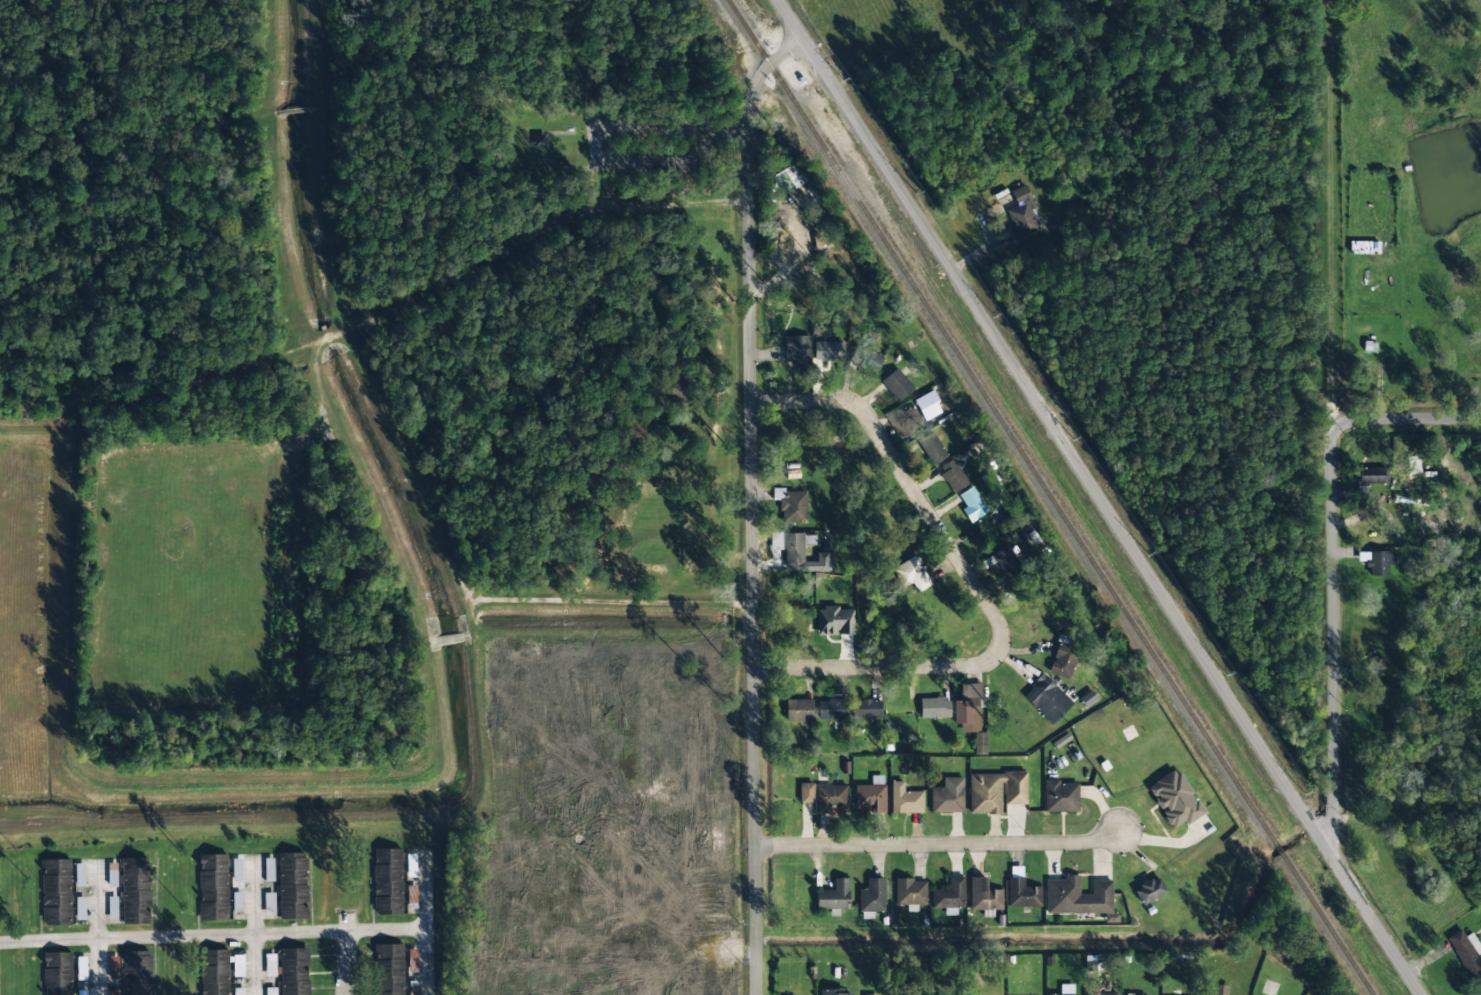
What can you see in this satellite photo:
building: (539, 142)
building: (788, 179)
building: (1022, 212)
building: (796, 348)
building: (827, 351)
building: (867, 358)
building: (896, 385)
building: (928, 405)
road: (1410, 418)
building: (931, 448)
road: (898, 463)
building: (1413, 465)
building: (953, 476)
building: (1372, 476)
railway: (1049, 497)
road: (1100, 497)
road: (753, 504)
building: (972, 504)
building: (794, 507)
building: (1004, 562)
building: (1379, 563)
building: (912, 574)
building: (834, 621)
road: (1334, 643)
building: (1063, 661)
road: (900, 668)
building: (1047, 699)
building: (934, 708)
building: (968, 708)
building: (831, 709)
building: (866, 709)
building: (799, 711)
building: (995, 792)
building: (806, 793)
building: (870, 796)
building: (947, 796)
building: (1060, 797)
building: (831, 798)
building: (905, 799)
building: (1174, 799)
road: (941, 845)
building: (236, 870)
building: (387, 881)
building: (293, 886)
building: (213, 887)
building: (1150, 890)
building: (135, 891)
building: (56, 892)
building: (910, 892)
building: (1022, 893)
building: (949, 895)
building: (833, 896)
building: (872, 896)
building: (983, 896)
building: (1079, 898)
road: (431, 922)
road: (253, 930)
road: (391, 930)
road: (97, 932)
road: (175, 937)
building: (1466, 952)
road: (347, 963)
building: (113, 967)
building: (389, 969)
building: (294, 971)
building: (215, 972)
building: (57, 973)
building: (137, 973)
building: (1098, 988)
building: (1065, 990)
building: (1219, 990)
building: (238, 991)
building: (835, 992)
building: (1143, 994)

